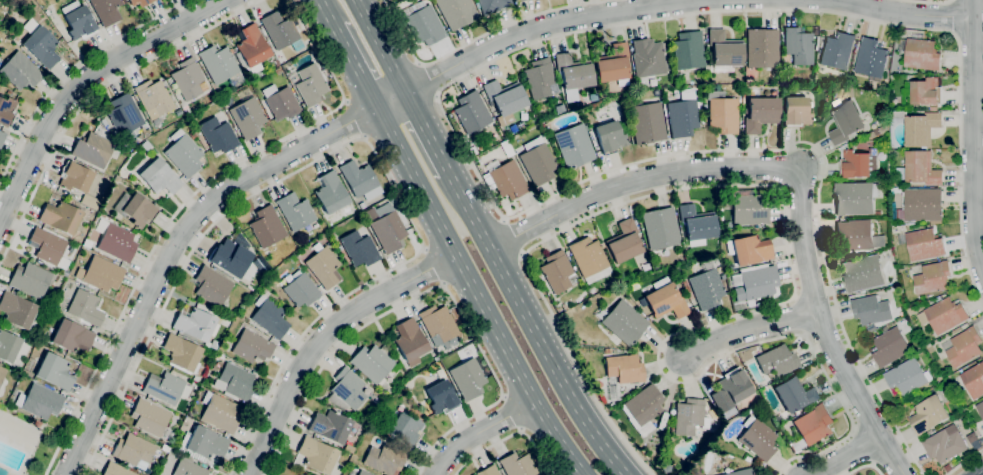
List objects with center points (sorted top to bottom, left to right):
building: (517, 1)
building: (140, 2)
road: (925, 2)
building: (492, 5)
building: (107, 10)
building: (456, 12)
road: (900, 13)
road: (328, 14)
road: (951, 17)
building: (79, 21)
building: (422, 23)
building: (279, 30)
road: (529, 31)
building: (917, 35)
road: (478, 38)
building: (16, 39)
building: (42, 46)
road: (381, 46)
building: (798, 46)
building: (761, 48)
building: (251, 49)
building: (688, 50)
building: (231, 51)
building: (724, 51)
building: (837, 51)
building: (920, 54)
building: (648, 57)
building: (871, 59)
building: (218, 63)
building: (276, 63)
building: (613, 64)
road: (357, 67)
road: (71, 68)
building: (278, 70)
building: (20, 71)
building: (573, 75)
building: (540, 78)
building: (187, 79)
road: (427, 80)
road: (82, 81)
building: (310, 84)
building: (926, 92)
building: (219, 93)
road: (93, 94)
building: (504, 97)
building: (593, 97)
building: (153, 98)
road: (439, 101)
building: (281, 102)
building: (559, 109)
building: (933, 109)
building: (6, 111)
building: (795, 111)
building: (471, 112)
building: (721, 112)
building: (760, 113)
building: (124, 114)
building: (682, 114)
building: (248, 117)
building: (103, 121)
building: (647, 123)
building: (845, 123)
building: (921, 129)
building: (883, 130)
road: (427, 133)
building: (874, 133)
road: (974, 133)
building: (217, 134)
building: (192, 135)
building: (2, 136)
building: (609, 137)
road: (353, 142)
building: (145, 145)
building: (573, 146)
building: (92, 149)
building: (507, 149)
building: (183, 153)
building: (537, 161)
building: (857, 163)
road: (800, 169)
building: (920, 169)
building: (122, 172)
building: (157, 176)
building: (76, 177)
building: (116, 178)
building: (360, 180)
building: (506, 180)
building: (331, 193)
building: (855, 198)
road: (184, 204)
building: (362, 205)
building: (921, 206)
building: (135, 209)
building: (749, 209)
building: (295, 212)
building: (877, 214)
building: (60, 217)
building: (697, 224)
building: (266, 226)
building: (660, 228)
building: (388, 231)
building: (858, 235)
road: (514, 237)
building: (114, 239)
road: (787, 240)
building: (623, 242)
building: (86, 243)
building: (923, 245)
building: (47, 246)
building: (340, 247)
road: (174, 248)
building: (359, 249)
building: (749, 249)
building: (232, 255)
building: (589, 259)
building: (323, 265)
road: (432, 266)
building: (668, 269)
building: (557, 271)
building: (720, 272)
building: (102, 273)
building: (862, 273)
building: (932, 278)
building: (30, 279)
building: (753, 284)
building: (83, 286)
building: (212, 286)
building: (685, 286)
building: (706, 286)
building: (299, 288)
road: (433, 288)
road: (476, 293)
building: (665, 299)
building: (938, 299)
building: (283, 304)
building: (564, 307)
building: (85, 308)
building: (17, 310)
building: (871, 310)
building: (945, 315)
building: (269, 316)
building: (622, 321)
building: (196, 324)
building: (438, 324)
road: (532, 327)
road: (748, 327)
building: (871, 329)
building: (70, 336)
road: (324, 338)
building: (410, 341)
building: (213, 344)
building: (8, 346)
building: (251, 346)
building: (889, 347)
building: (963, 347)
building: (607, 351)
building: (182, 353)
building: (777, 360)
building: (374, 364)
building: (55, 371)
building: (622, 372)
building: (2, 373)
building: (907, 377)
building: (468, 379)
building: (974, 380)
building: (234, 382)
building: (734, 384)
building: (165, 387)
building: (346, 390)
building: (795, 394)
building: (441, 397)
building: (39, 402)
building: (643, 406)
building: (980, 409)
building: (219, 412)
building: (929, 415)
building: (150, 417)
building: (690, 417)
building: (779, 419)
building: (37, 424)
building: (811, 426)
building: (333, 427)
building: (404, 428)
road: (480, 432)
road: (511, 436)
building: (757, 438)
building: (203, 444)
building: (944, 446)
building: (165, 448)
building: (134, 451)
building: (316, 455)
road: (846, 456)
building: (384, 459)
road: (964, 462)
building: (517, 465)
road: (865, 466)
building: (188, 467)
building: (666, 467)
building: (948, 468)
building: (116, 470)
building: (488, 471)
building: (2, 472)
building: (740, 472)
building: (363, 473)
building: (298, 474)
building: (300, 474)

